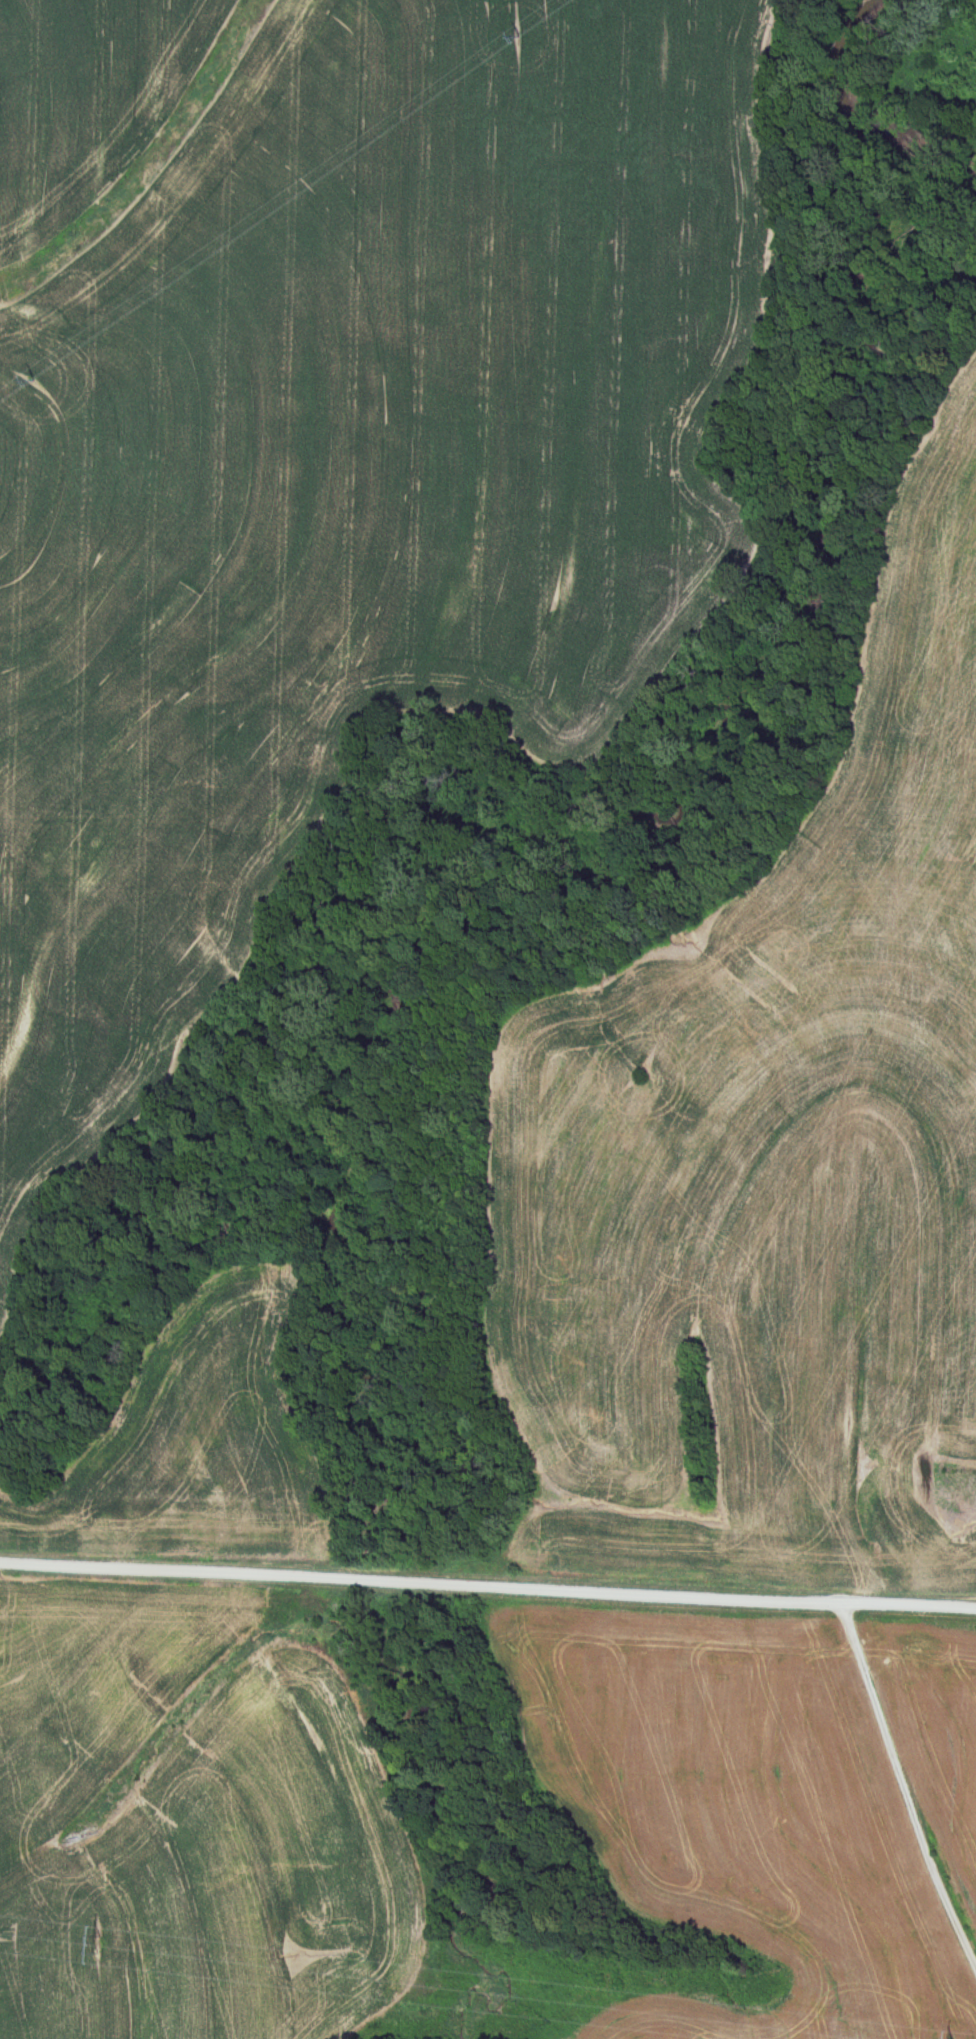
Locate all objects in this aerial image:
river: (860, 122)
road: (487, 1588)
road: (903, 1785)
power tower: (100, 1942)

